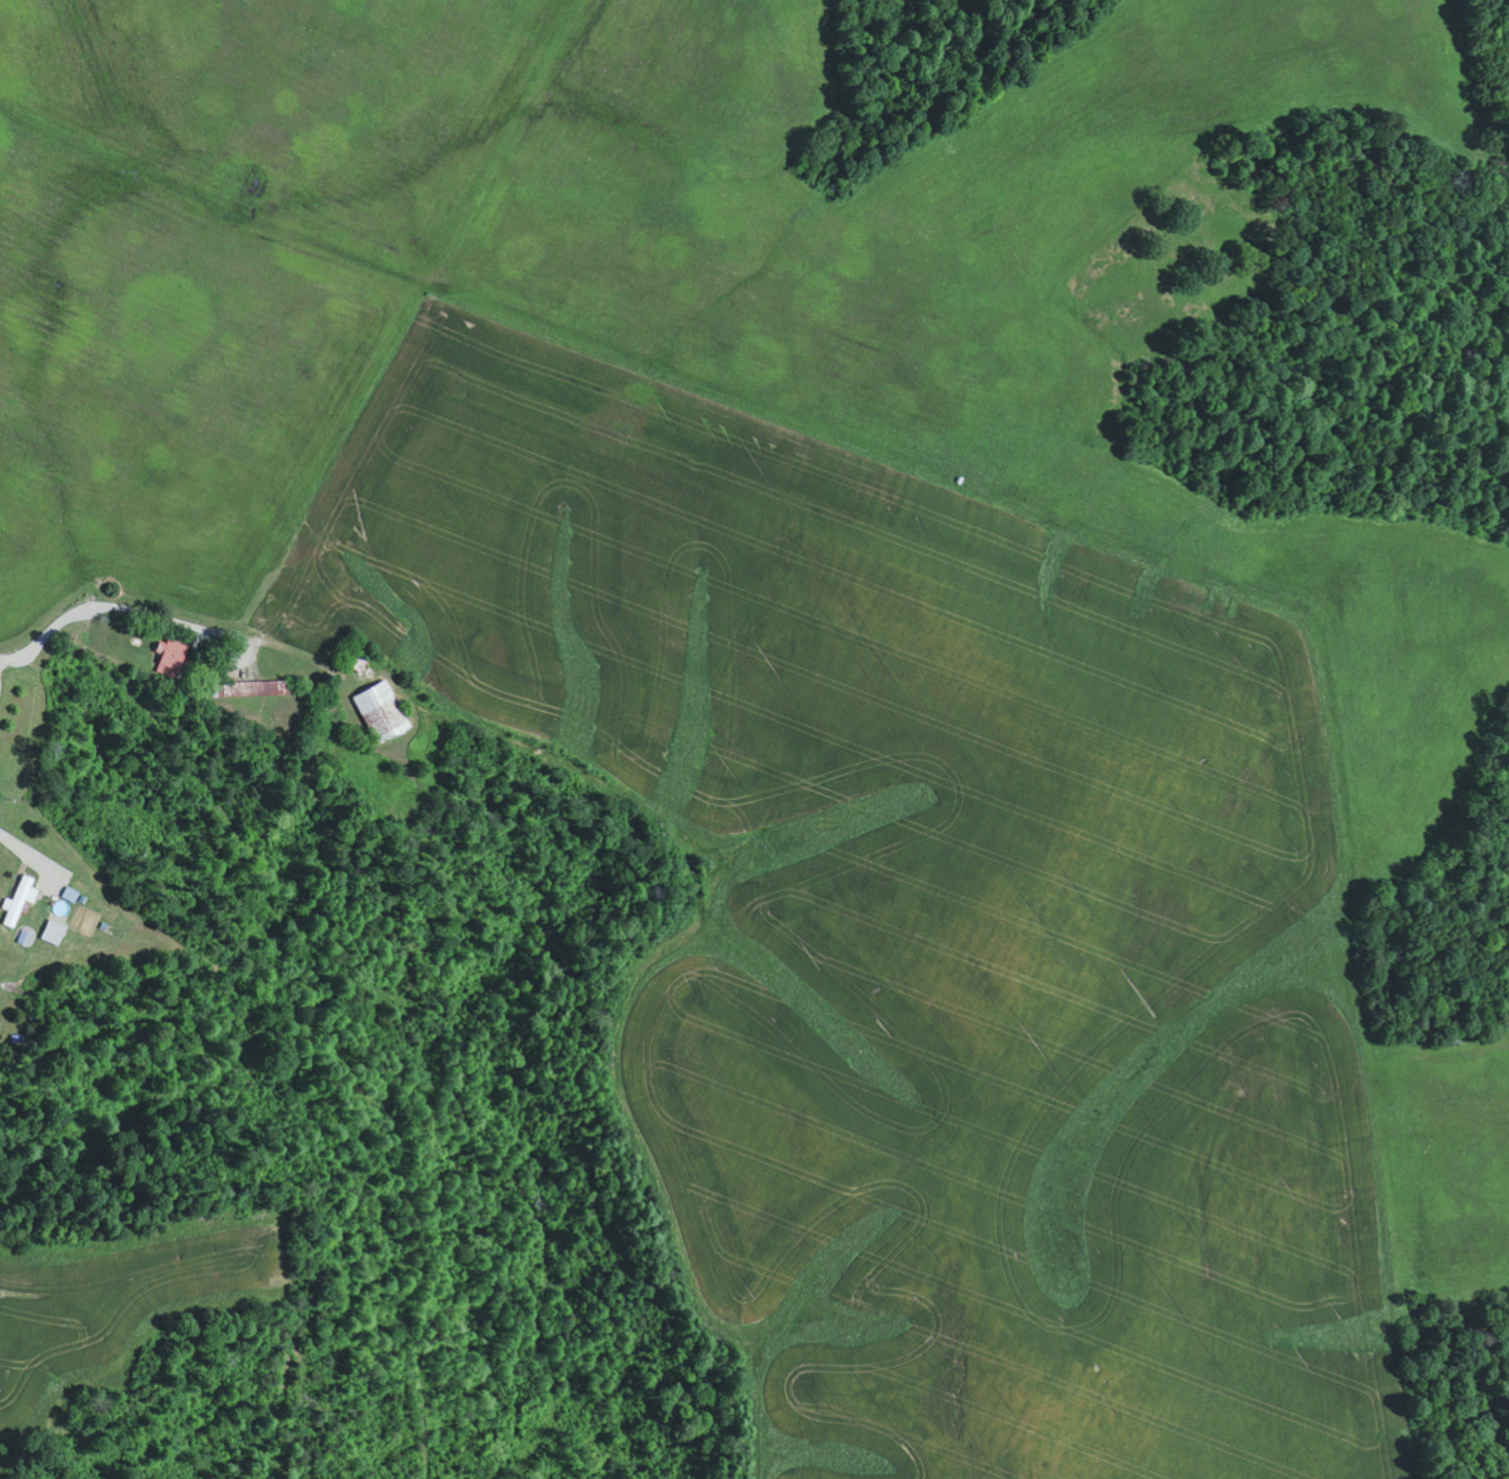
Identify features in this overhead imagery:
road: (41, 572)
building: (171, 657)
building: (258, 688)
building: (381, 710)
building: (67, 894)
building: (18, 900)
road: (128, 926)
building: (52, 932)
building: (24, 937)

